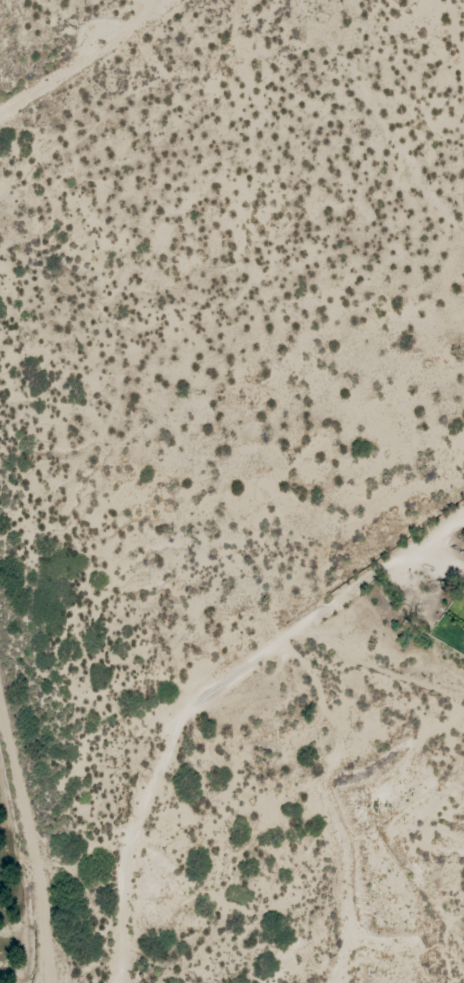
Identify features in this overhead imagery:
road: (58, 33)
road: (232, 756)

